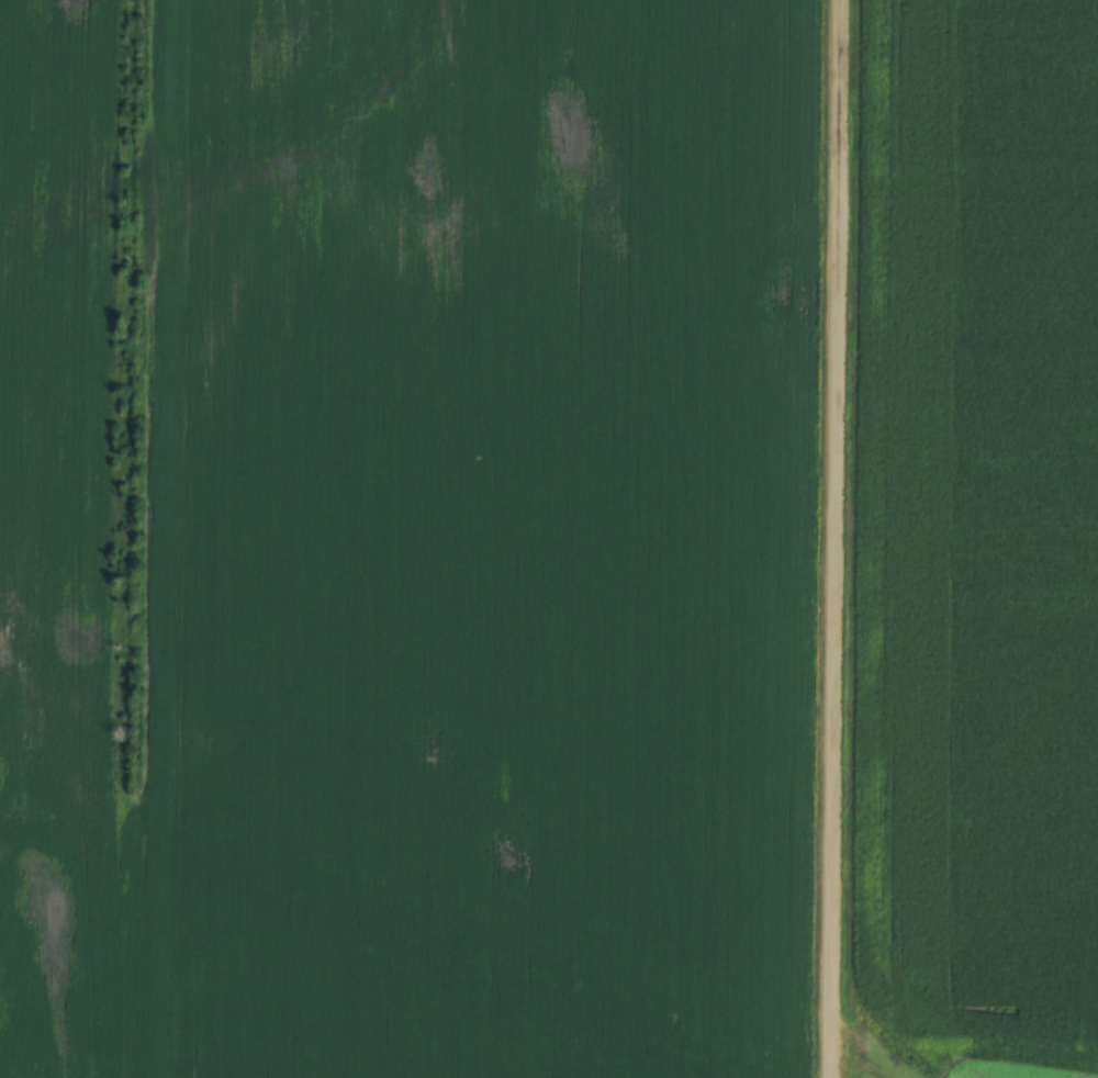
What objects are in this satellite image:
road: (842, 539)

